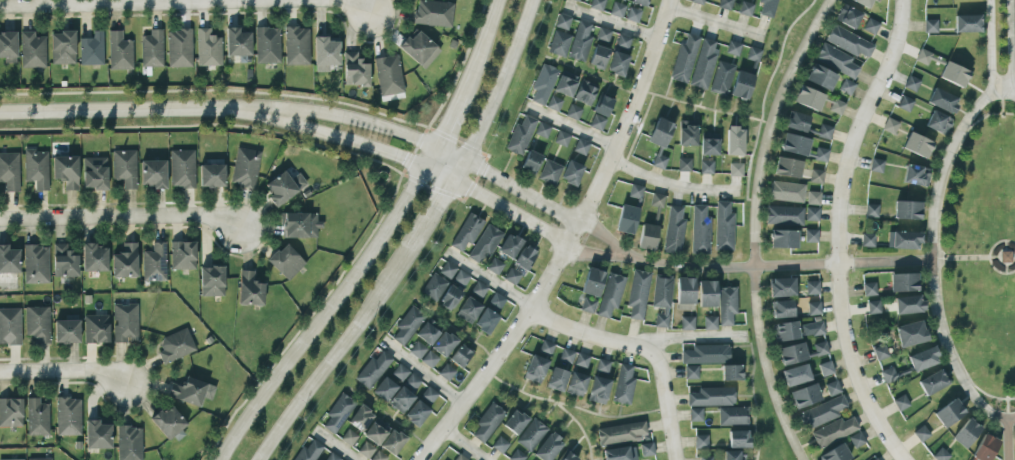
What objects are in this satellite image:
building: (576, 0)
building: (625, 0)
building: (697, 1)
building: (639, 2)
building: (863, 2)
road: (186, 3)
building: (597, 4)
building: (725, 4)
building: (767, 7)
building: (745, 8)
building: (617, 10)
building: (433, 13)
building: (632, 15)
building: (848, 16)
building: (562, 21)
road: (611, 22)
road: (715, 23)
building: (967, 23)
building: (871, 26)
building: (930, 26)
building: (603, 35)
building: (623, 41)
building: (237, 42)
building: (580, 42)
building: (848, 42)
building: (559, 43)
building: (267, 45)
road: (1011, 45)
building: (296, 46)
road: (480, 46)
road: (992, 46)
building: (8, 47)
building: (62, 47)
building: (179, 48)
building: (208, 48)
building: (733, 48)
building: (91, 49)
building: (152, 49)
building: (419, 49)
building: (32, 50)
building: (119, 51)
building: (325, 53)
building: (753, 54)
building: (598, 57)
building: (923, 57)
building: (684, 59)
building: (836, 60)
building: (617, 63)
building: (704, 63)
building: (355, 70)
building: (954, 74)
building: (388, 75)
building: (820, 77)
building: (721, 78)
building: (543, 83)
building: (911, 83)
building: (565, 84)
building: (741, 85)
building: (846, 87)
road: (496, 92)
building: (585, 92)
road: (655, 94)
road: (763, 97)
building: (808, 98)
building: (942, 100)
road: (1001, 102)
building: (554, 103)
building: (905, 103)
building: (602, 106)
road: (133, 109)
building: (573, 112)
road: (448, 119)
building: (797, 121)
road: (369, 122)
building: (597, 122)
building: (938, 122)
road: (569, 125)
building: (890, 126)
building: (542, 129)
building: (824, 131)
building: (660, 132)
building: (687, 133)
building: (520, 135)
building: (561, 138)
building: (734, 141)
building: (709, 144)
building: (794, 144)
building: (917, 145)
building: (581, 147)
building: (820, 154)
building: (659, 161)
building: (530, 162)
building: (684, 164)
building: (876, 165)
building: (124, 167)
building: (245, 167)
road: (421, 167)
building: (706, 167)
building: (787, 167)
building: (36, 168)
building: (181, 168)
building: (735, 170)
building: (9, 171)
building: (66, 171)
building: (549, 172)
building: (571, 172)
building: (94, 173)
building: (153, 173)
building: (211, 175)
building: (916, 175)
building: (816, 176)
road: (670, 184)
building: (283, 187)
road: (522, 191)
building: (635, 191)
building: (786, 191)
building: (813, 198)
building: (657, 200)
building: (871, 210)
building: (907, 210)
building: (812, 214)
road: (432, 215)
building: (784, 215)
road: (120, 216)
building: (626, 219)
building: (299, 225)
road: (753, 225)
building: (723, 227)
building: (700, 230)
building: (467, 231)
building: (673, 231)
road: (837, 231)
road: (604, 236)
building: (811, 236)
building: (647, 237)
building: (783, 239)
building: (867, 240)
building: (903, 240)
building: (485, 243)
road: (567, 243)
building: (509, 246)
road: (596, 253)
road: (932, 253)
building: (182, 255)
road: (938, 255)
building: (524, 257)
road: (988, 257)
road: (1005, 257)
building: (94, 258)
road: (973, 259)
building: (9, 260)
building: (64, 261)
building: (125, 261)
building: (285, 261)
building: (154, 263)
road: (779, 263)
building: (36, 264)
building: (495, 266)
building: (448, 269)
building: (513, 274)
building: (461, 277)
road: (489, 279)
building: (211, 281)
building: (592, 282)
building: (903, 282)
building: (434, 287)
building: (781, 287)
building: (812, 287)
building: (249, 289)
building: (479, 289)
building: (869, 289)
building: (685, 293)
building: (707, 293)
building: (637, 294)
building: (610, 295)
building: (449, 298)
building: (661, 299)
building: (497, 300)
building: (908, 304)
road: (331, 305)
building: (587, 305)
building: (726, 305)
building: (873, 307)
building: (814, 308)
building: (782, 309)
building: (468, 310)
building: (485, 321)
building: (125, 322)
building: (710, 322)
building: (687, 323)
building: (37, 324)
building: (10, 326)
building: (407, 326)
building: (816, 328)
building: (96, 329)
building: (66, 330)
building: (785, 331)
building: (427, 333)
building: (910, 333)
road: (694, 337)
building: (443, 343)
building: (175, 346)
building: (546, 347)
road: (642, 348)
building: (820, 348)
building: (880, 352)
road: (334, 353)
building: (792, 353)
building: (423, 354)
building: (706, 354)
building: (460, 356)
building: (923, 358)
building: (581, 360)
building: (602, 365)
building: (372, 369)
building: (535, 369)
building: (560, 369)
building: (825, 369)
road: (422, 371)
road: (65, 372)
building: (446, 372)
building: (691, 372)
building: (731, 372)
building: (795, 375)
building: (888, 375)
building: (933, 382)
building: (576, 384)
building: (623, 385)
building: (832, 388)
building: (384, 389)
building: (403, 389)
building: (598, 390)
building: (190, 391)
road: (520, 391)
building: (429, 394)
building: (804, 396)
building: (711, 397)
road: (753, 398)
building: (901, 403)
road: (1007, 408)
building: (10, 412)
building: (338, 412)
building: (821, 412)
building: (416, 413)
building: (949, 413)
building: (695, 414)
building: (68, 416)
road: (387, 416)
building: (733, 416)
building: (37, 417)
building: (360, 418)
building: (487, 422)
building: (515, 422)
building: (169, 423)
road: (579, 427)
building: (834, 431)
building: (376, 432)
building: (621, 432)
building: (921, 433)
building: (966, 433)
building: (97, 435)
building: (531, 435)
building: (349, 436)
road: (1007, 438)
building: (738, 439)
building: (856, 439)
building: (700, 441)
building: (392, 442)
road: (466, 442)
building: (129, 443)
road: (339, 446)
building: (548, 447)
building: (985, 448)
building: (366, 449)
building: (646, 449)
building: (309, 451)
building: (620, 453)
building: (835, 453)
building: (516, 455)
building: (733, 455)
building: (941, 455)
building: (332, 456)
building: (379, 456)
building: (567, 456)
building: (705, 458)
building: (12, 459)
building: (39, 459)
building: (875, 459)

